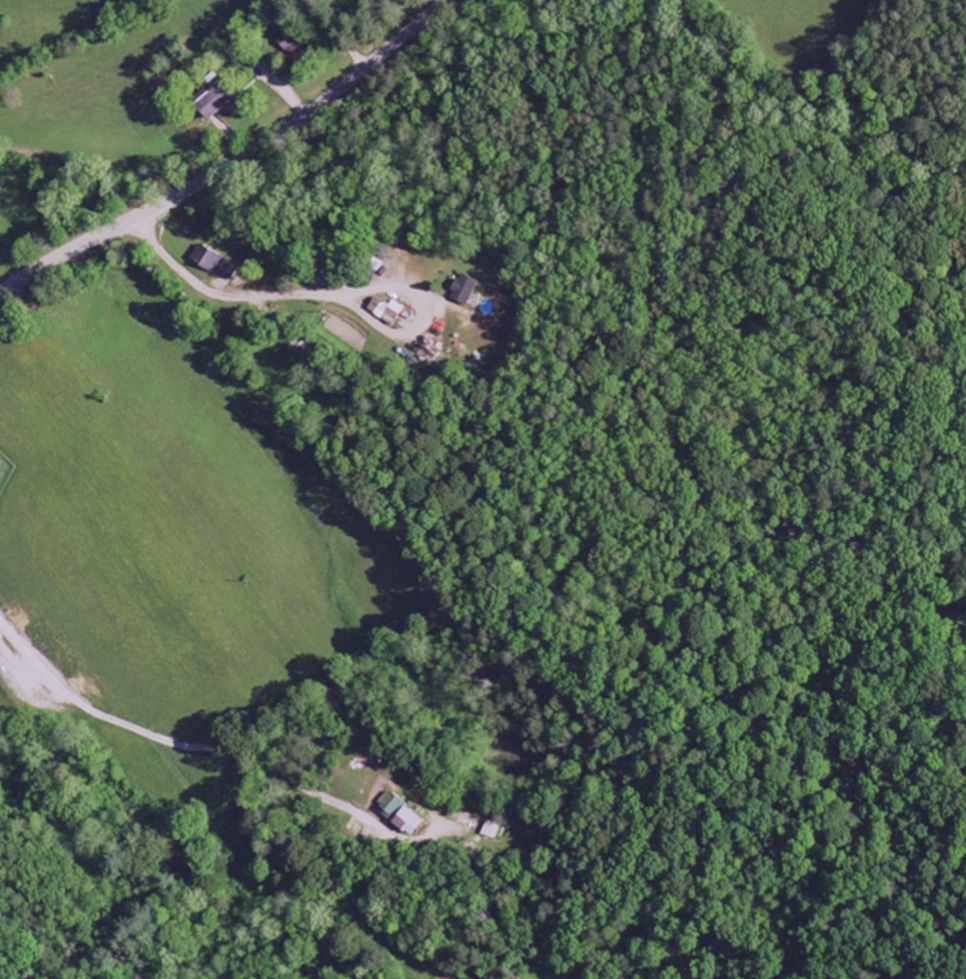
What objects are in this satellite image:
road: (777, 26)
road: (336, 32)
building: (287, 39)
building: (214, 101)
road: (233, 162)
building: (215, 263)
building: (463, 290)
road: (331, 292)
building: (388, 312)
road: (158, 736)
building: (402, 814)
building: (494, 830)
road: (296, 884)

